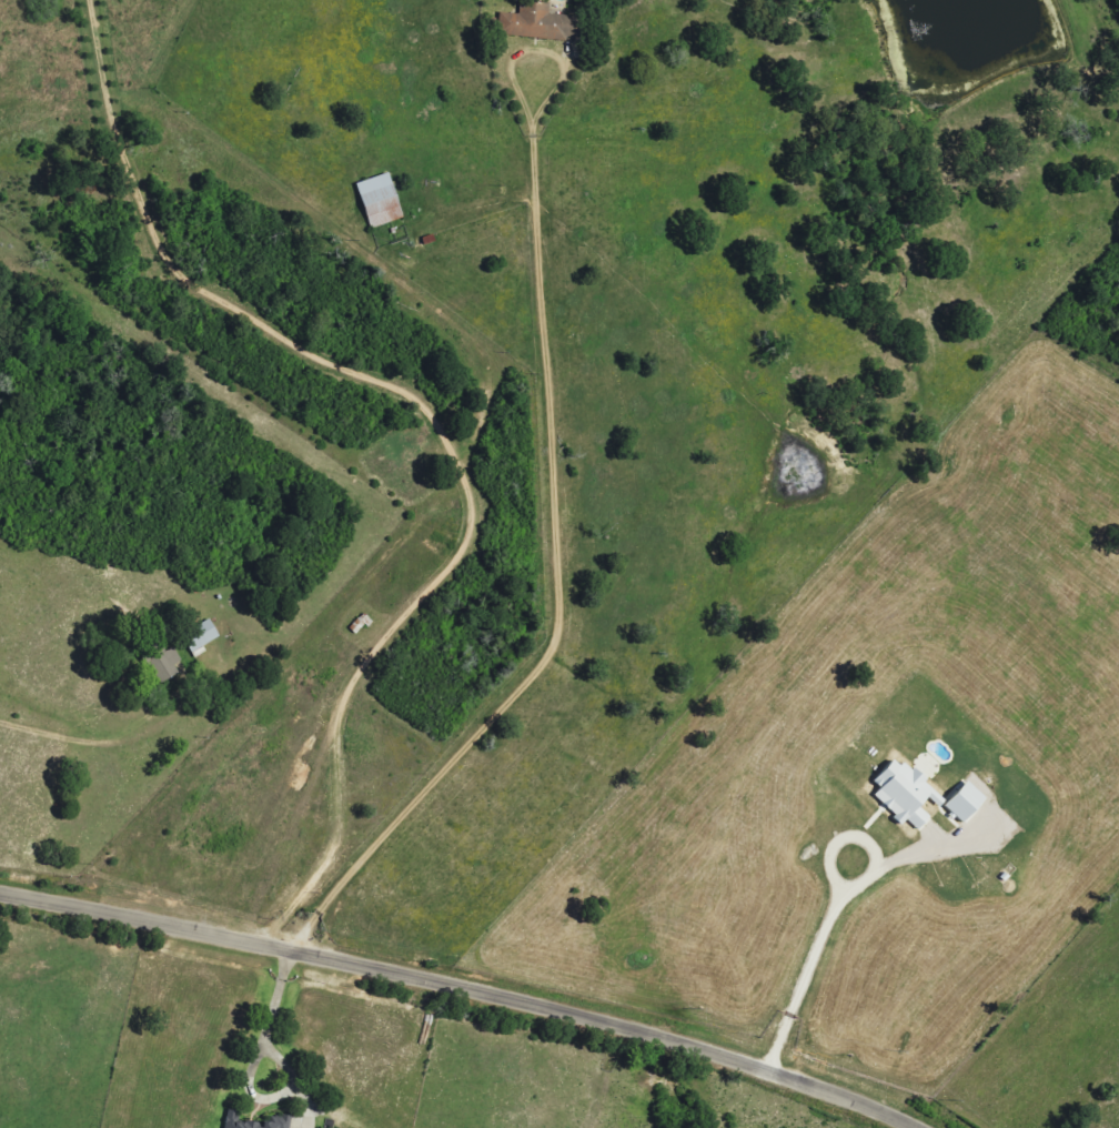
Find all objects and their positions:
building: (540, 23)
building: (381, 202)
building: (202, 637)
building: (167, 666)
road: (69, 731)
building: (907, 793)
building: (967, 804)
road: (31, 906)
road: (497, 998)
building: (238, 1121)
building: (281, 1122)

